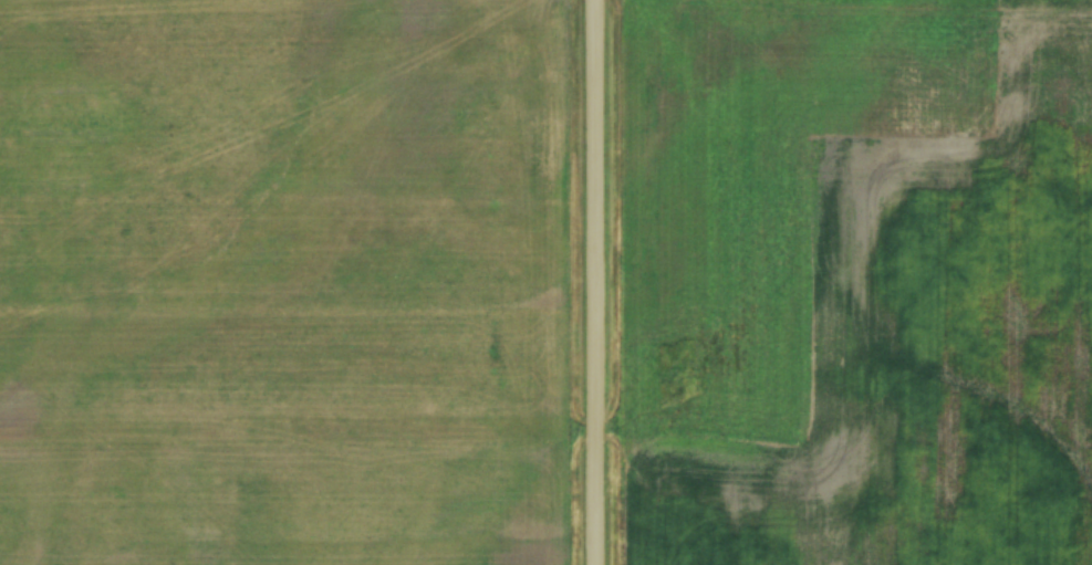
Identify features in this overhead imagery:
road: (599, 282)

